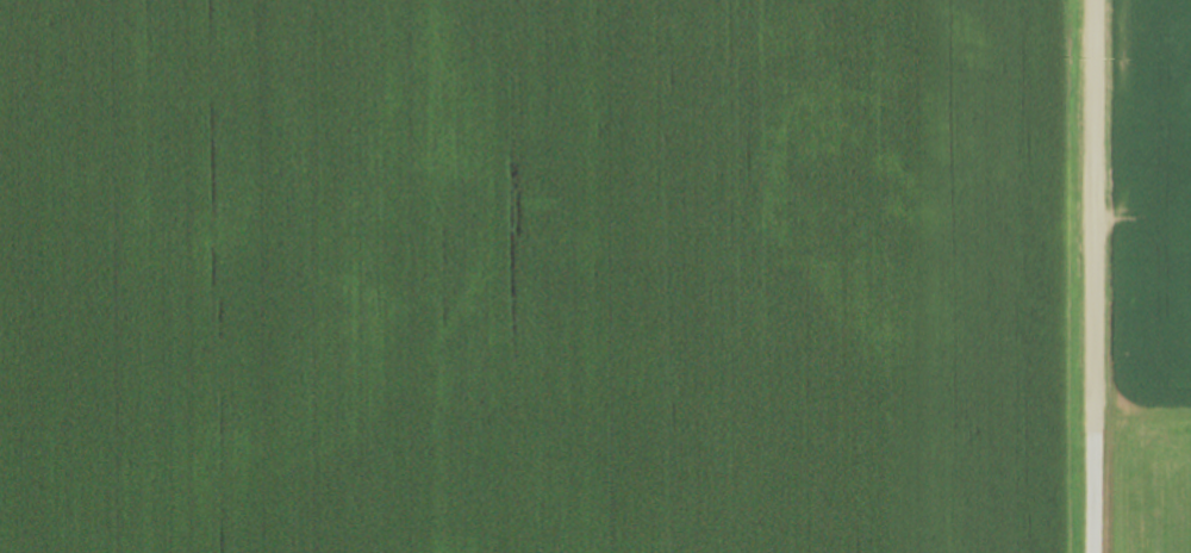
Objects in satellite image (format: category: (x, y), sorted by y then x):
road: (1092, 276)

